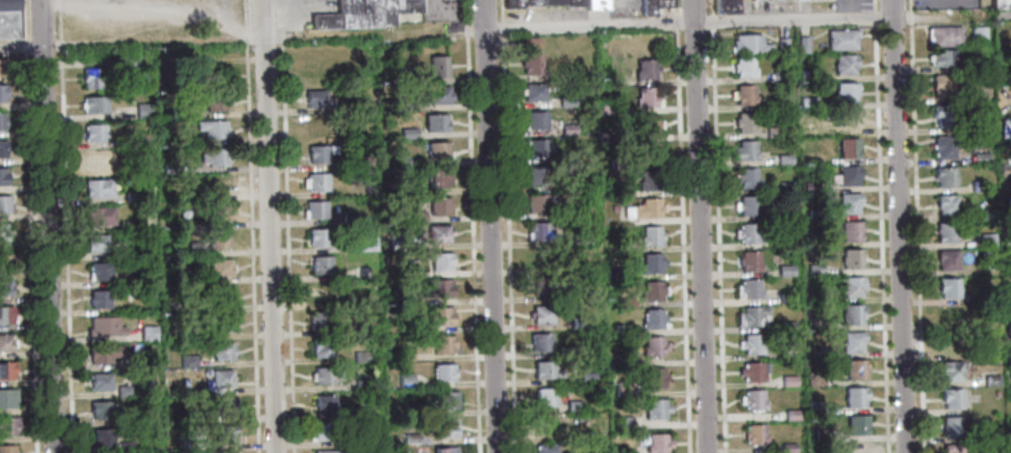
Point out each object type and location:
building: (528, 2)
building: (550, 2)
building: (574, 3)
building: (511, 4)
building: (595, 4)
building: (1000, 4)
road: (872, 5)
building: (407, 6)
road: (621, 6)
building: (652, 6)
parking lot: (623, 7)
building: (723, 7)
building: (386, 13)
building: (358, 14)
road: (934, 16)
road: (873, 17)
building: (10, 19)
road: (792, 19)
building: (324, 23)
road: (368, 32)
building: (978, 34)
building: (944, 35)
building: (841, 38)
building: (748, 43)
building: (802, 44)
road: (21, 46)
building: (782, 46)
building: (942, 59)
building: (129, 62)
building: (532, 64)
building: (843, 64)
building: (437, 67)
building: (742, 67)
building: (2, 68)
building: (644, 68)
building: (314, 71)
building: (212, 75)
building: (807, 75)
building: (779, 76)
building: (91, 78)
building: (408, 78)
building: (605, 80)
building: (940, 84)
building: (533, 92)
building: (844, 92)
building: (2, 93)
building: (743, 94)
building: (438, 96)
building: (647, 96)
building: (317, 99)
building: (566, 101)
building: (214, 102)
building: (807, 102)
building: (95, 104)
building: (353, 106)
building: (404, 106)
building: (605, 106)
building: (143, 110)
building: (942, 115)
building: (846, 119)
building: (535, 120)
building: (1, 122)
building: (435, 122)
building: (744, 122)
building: (647, 123)
building: (314, 126)
building: (211, 128)
building: (567, 129)
building: (94, 132)
building: (773, 132)
building: (407, 133)
building: (144, 139)
building: (1010, 139)
building: (942, 146)
building: (536, 148)
building: (847, 148)
building: (2, 149)
building: (437, 150)
building: (744, 150)
building: (647, 151)
building: (319, 153)
building: (213, 156)
building: (979, 158)
building: (783, 159)
building: (93, 160)
building: (362, 161)
building: (399, 161)
building: (616, 164)
building: (169, 167)
building: (1005, 169)
building: (847, 174)
building: (537, 175)
building: (944, 176)
building: (3, 178)
building: (746, 178)
building: (438, 179)
building: (648, 180)
building: (316, 181)
building: (570, 183)
building: (783, 186)
building: (809, 186)
building: (978, 186)
building: (97, 188)
building: (409, 189)
building: (617, 191)
building: (373, 194)
building: (132, 197)
building: (847, 201)
building: (1009, 202)
building: (537, 203)
building: (945, 203)
building: (4, 205)
building: (748, 205)
building: (439, 206)
building: (613, 208)
building: (643, 208)
building: (315, 209)
building: (216, 211)
building: (986, 212)
building: (815, 213)
building: (785, 214)
building: (99, 216)
building: (417, 216)
building: (349, 217)
building: (130, 224)
road: (48, 226)
road: (65, 226)
road: (250, 226)
road: (269, 226)
road: (285, 226)
road: (470, 226)
road: (488, 226)
road: (506, 226)
road: (682, 226)
road: (699, 226)
road: (716, 226)
road: (898, 226)
road: (916, 226)
building: (538, 230)
building: (849, 230)
building: (945, 232)
building: (2, 233)
building: (747, 233)
building: (438, 234)
building: (1009, 234)
building: (580, 236)
building: (649, 236)
building: (317, 237)
road: (879, 239)
building: (986, 239)
building: (218, 240)
building: (397, 241)
building: (96, 242)
building: (366, 243)
building: (619, 245)
building: (193, 247)
building: (851, 258)
building: (946, 258)
building: (2, 259)
building: (1009, 259)
building: (748, 260)
building: (441, 261)
building: (650, 263)
building: (320, 265)
building: (219, 267)
building: (814, 268)
building: (100, 270)
building: (784, 270)
building: (361, 272)
building: (407, 272)
building: (615, 273)
building: (177, 278)
building: (850, 285)
building: (542, 286)
building: (947, 287)
building: (5, 288)
building: (438, 288)
building: (748, 289)
building: (651, 290)
building: (1007, 292)
building: (321, 293)
building: (587, 293)
building: (220, 295)
building: (816, 296)
building: (786, 298)
building: (99, 299)
building: (623, 302)
building: (171, 306)
building: (541, 313)
building: (851, 313)
building: (951, 314)
building: (439, 315)
building: (752, 315)
building: (5, 316)
building: (653, 319)
building: (320, 320)
building: (577, 322)
building: (223, 323)
building: (787, 325)
building: (104, 326)
building: (350, 328)
building: (623, 329)
building: (148, 333)
building: (851, 340)
building: (539, 341)
building: (949, 342)
building: (5, 343)
building: (750, 343)
building: (443, 344)
building: (653, 345)
building: (322, 348)
building: (222, 351)
building: (569, 351)
building: (989, 352)
building: (103, 353)
building: (404, 353)
building: (360, 355)
building: (1010, 358)
building: (622, 359)
building: (137, 360)
building: (187, 360)
building: (543, 369)
building: (854, 369)
building: (753, 370)
building: (950, 370)
building: (6, 371)
building: (443, 372)
building: (326, 375)
building: (654, 376)
building: (586, 377)
building: (220, 378)
building: (812, 378)
building: (404, 379)
building: (991, 379)
building: (788, 380)
building: (100, 382)
building: (361, 383)
building: (621, 388)
building: (1009, 390)
building: (124, 391)
building: (995, 393)
building: (544, 396)
building: (853, 396)
building: (951, 397)
building: (7, 398)
building: (752, 398)
building: (446, 400)
building: (324, 403)
building: (224, 405)
building: (572, 405)
building: (814, 406)
building: (655, 408)
building: (100, 409)
building: (405, 409)
building: (362, 411)
building: (791, 414)
building: (196, 416)
building: (548, 423)
building: (623, 423)
building: (856, 424)
building: (9, 426)
building: (950, 426)
building: (445, 428)
building: (322, 430)
building: (754, 433)
building: (226, 434)
building: (990, 435)
building: (103, 436)
building: (409, 437)
building: (363, 439)
building: (656, 443)
building: (203, 444)
building: (126, 447)
building: (545, 447)
building: (787, 447)
building: (856, 448)
building: (952, 448)
building: (6, 449)
building: (444, 449)
building: (328, 451)
building: (622, 451)

